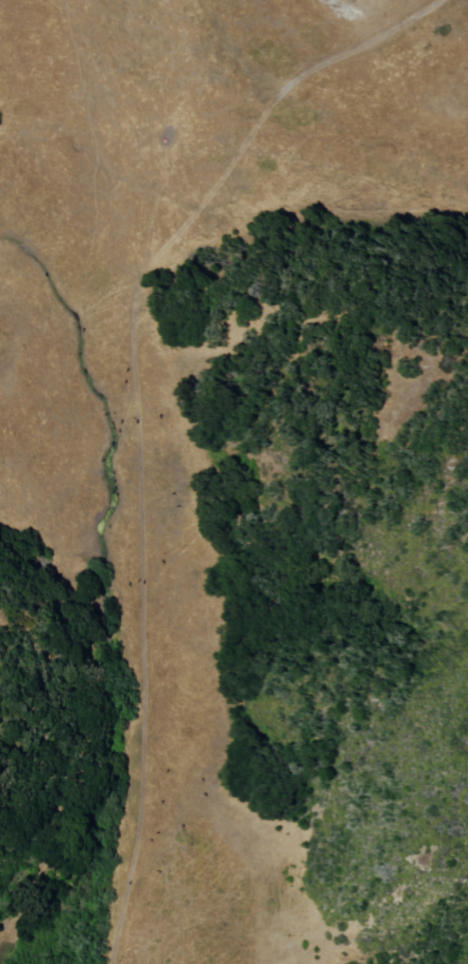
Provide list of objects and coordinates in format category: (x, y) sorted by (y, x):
road: (123, 416)

